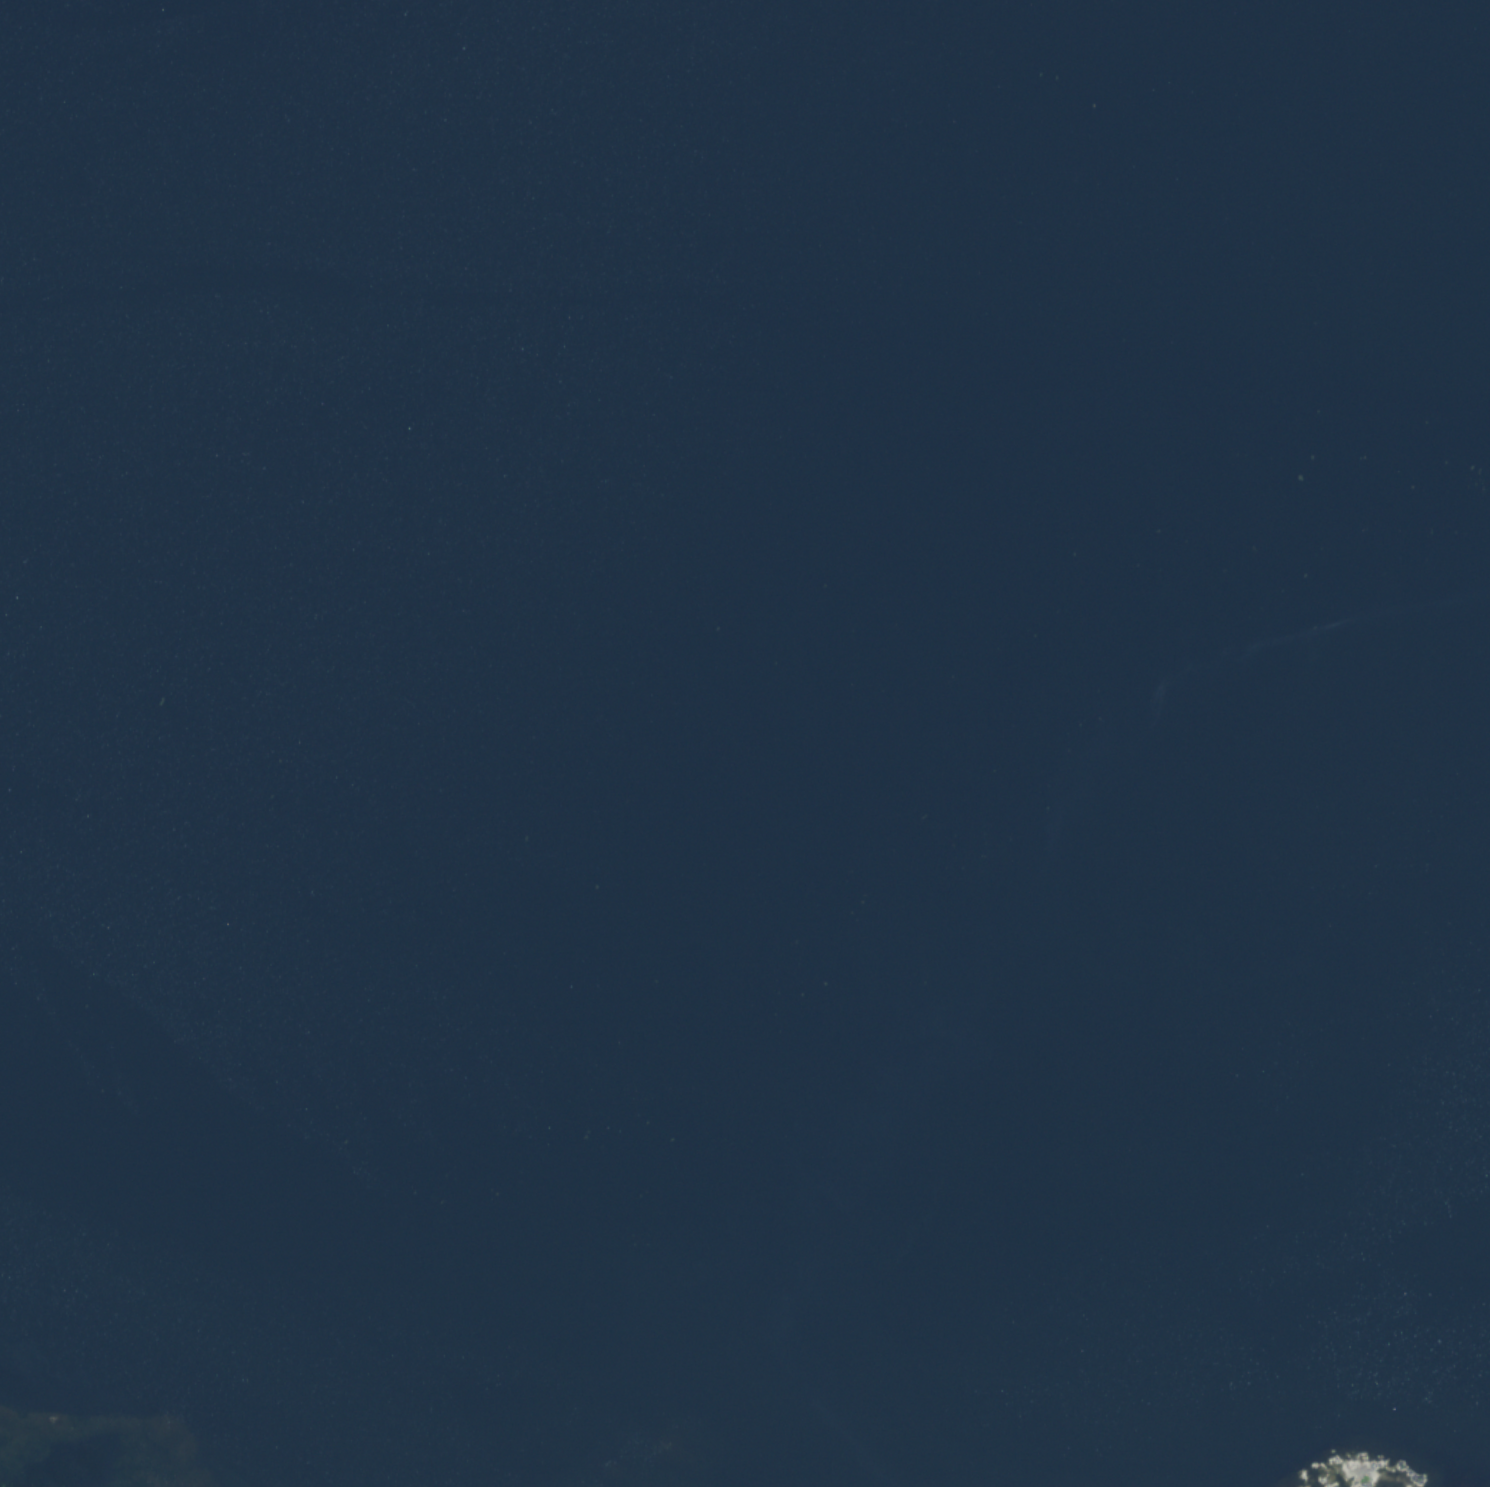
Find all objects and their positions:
river: (21, 5)

